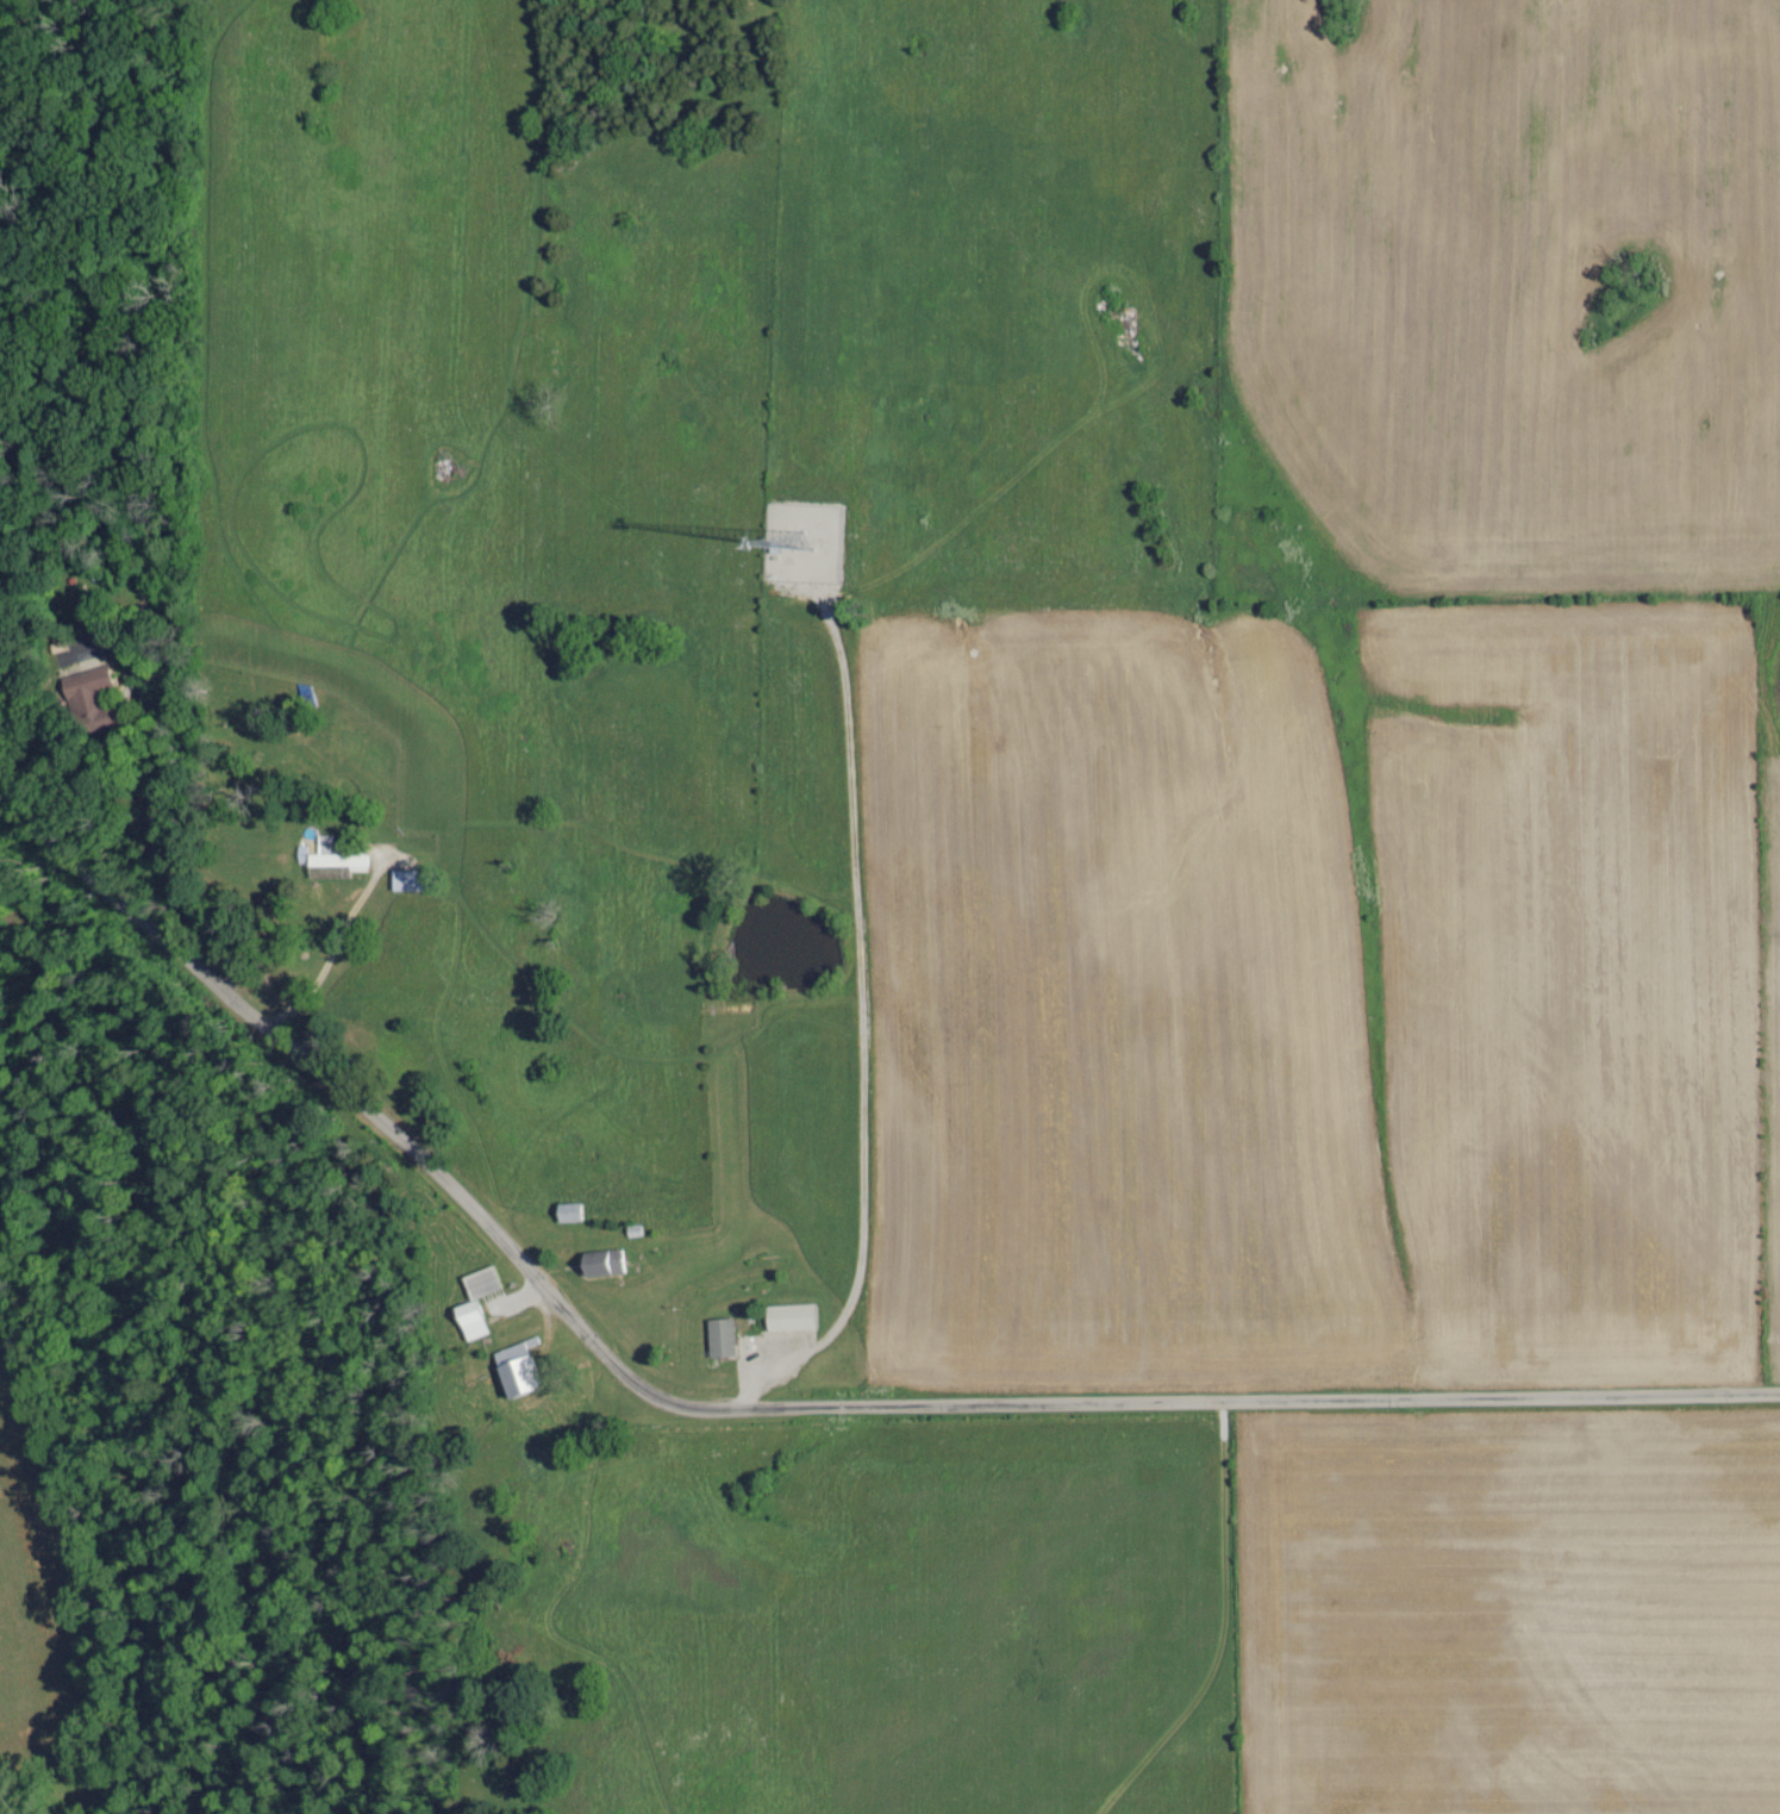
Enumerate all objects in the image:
road: (130, 684)
building: (87, 690)
road: (157, 855)
building: (337, 856)
building: (413, 880)
road: (325, 953)
road: (863, 1024)
building: (602, 1264)
building: (792, 1317)
building: (722, 1338)
building: (518, 1369)
road: (780, 1407)

